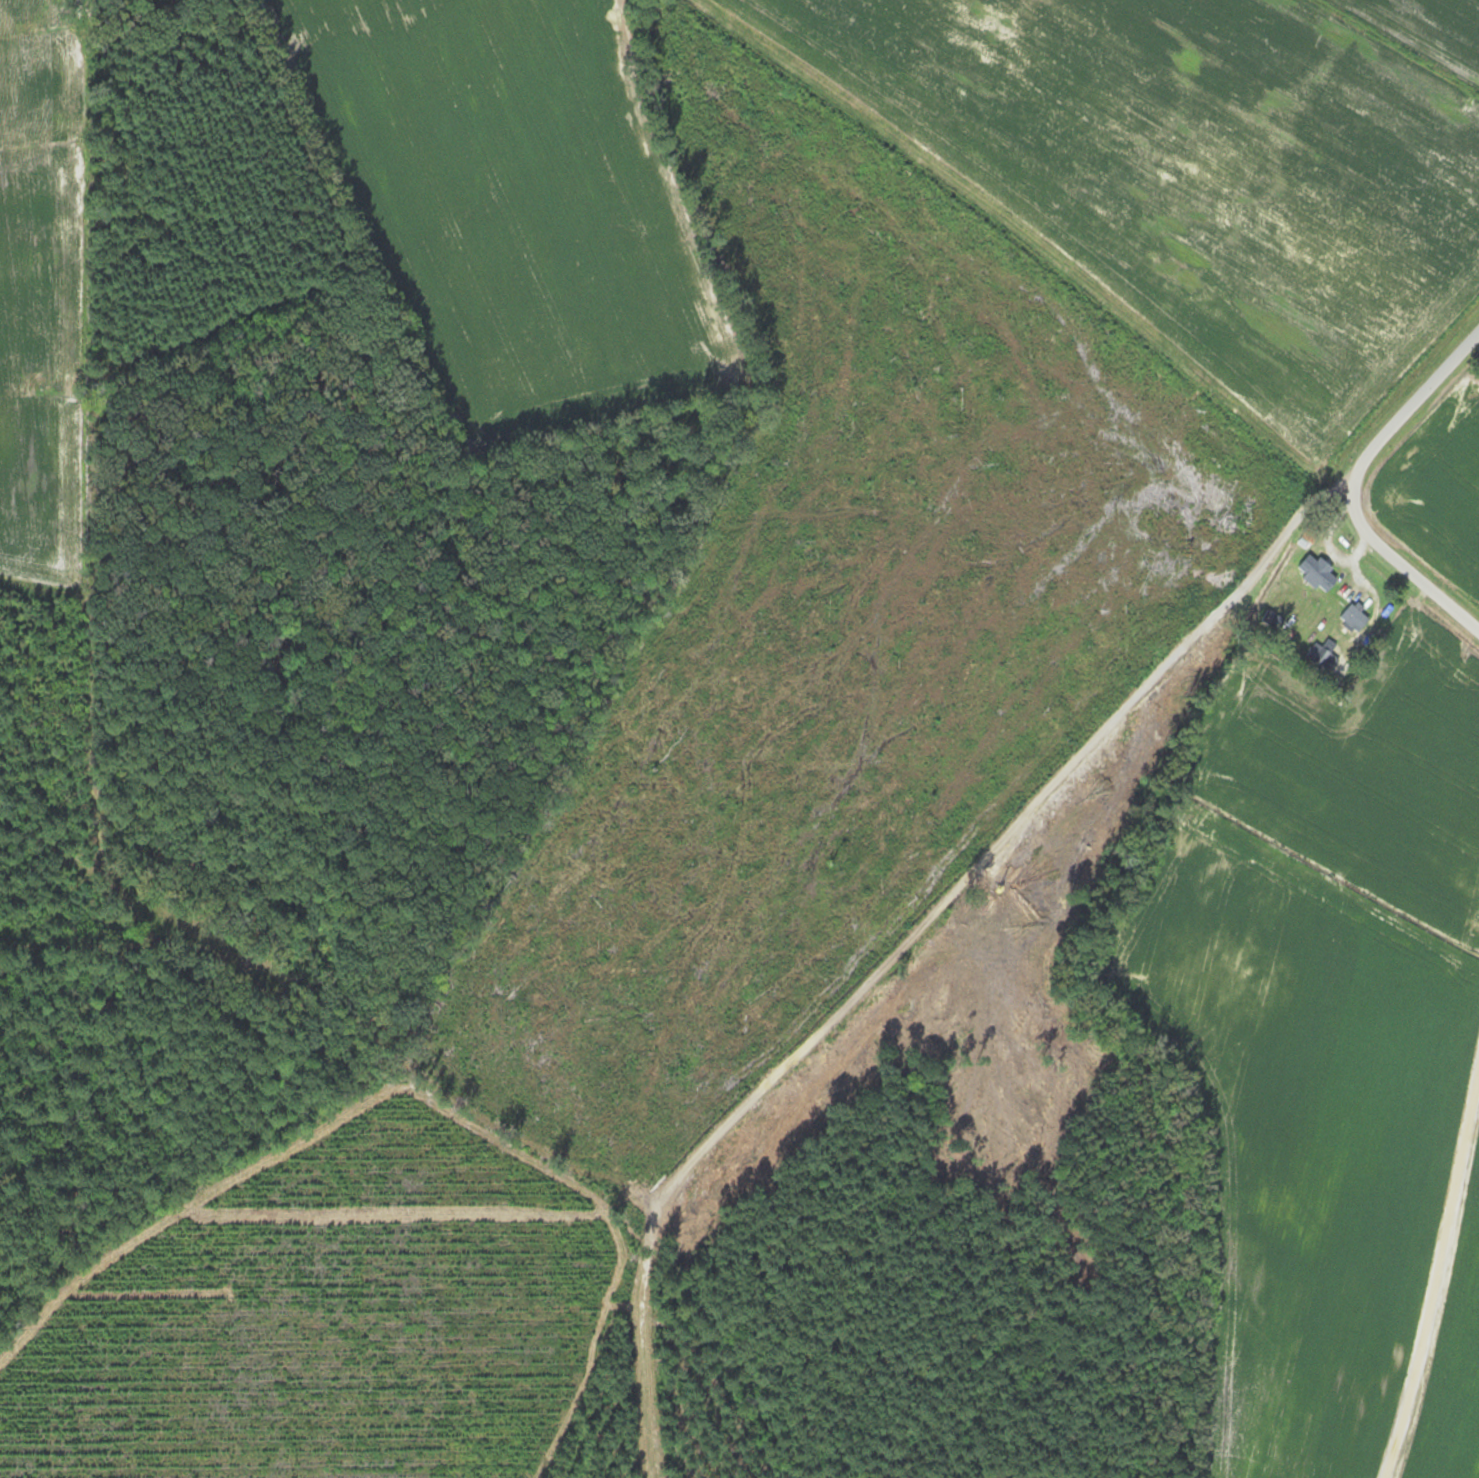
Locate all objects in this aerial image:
road: (1353, 486)
building: (1310, 570)
building: (1352, 617)
building: (1319, 656)

